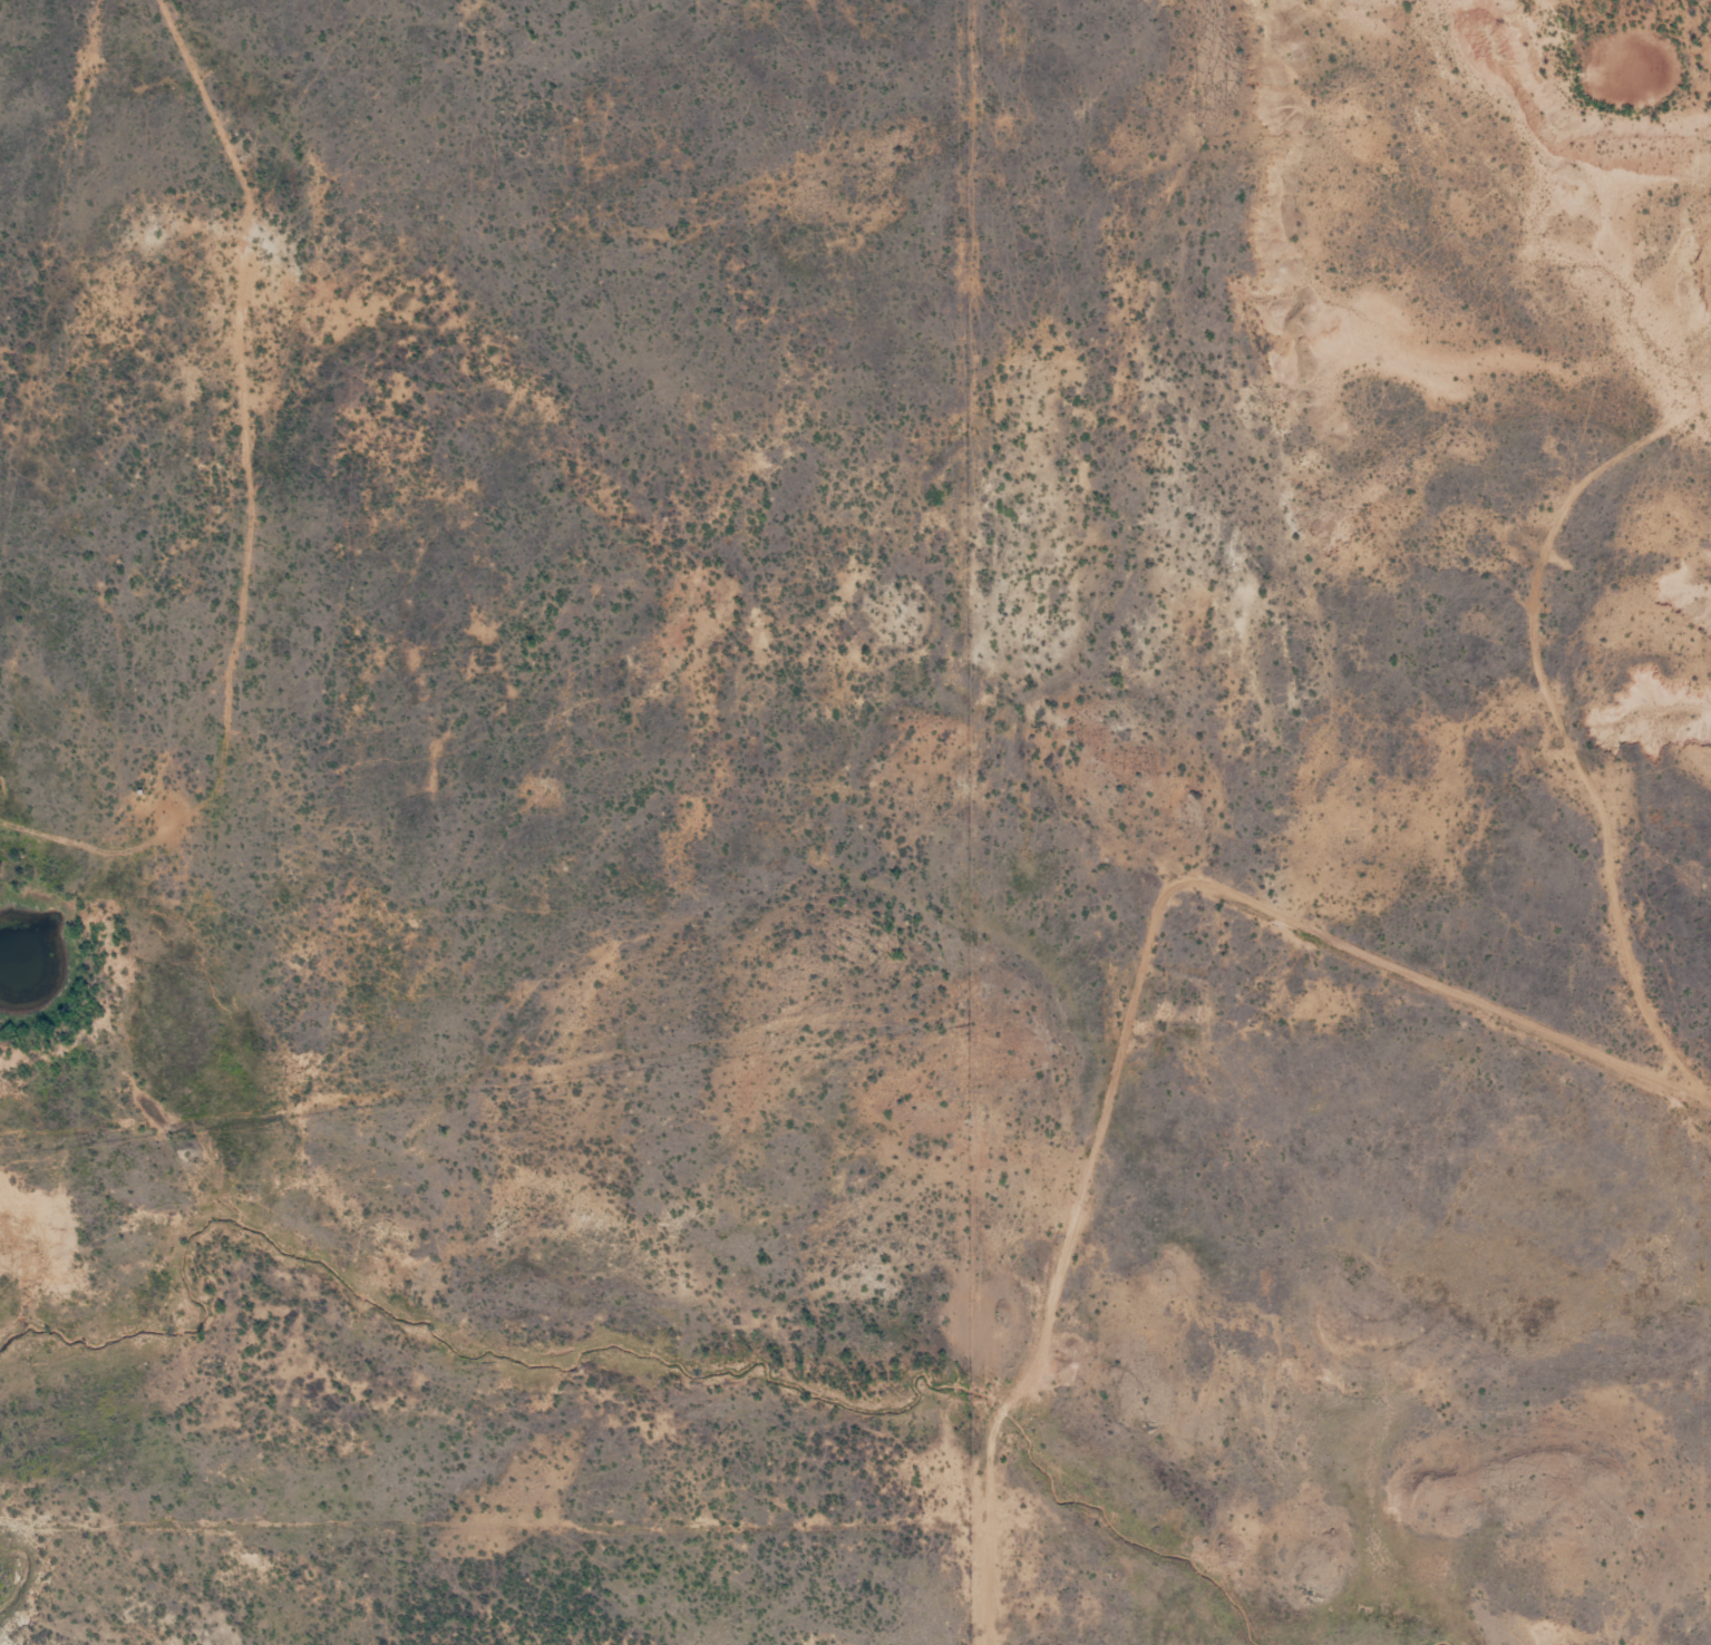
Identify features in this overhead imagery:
road: (246, 507)
road: (1562, 722)

